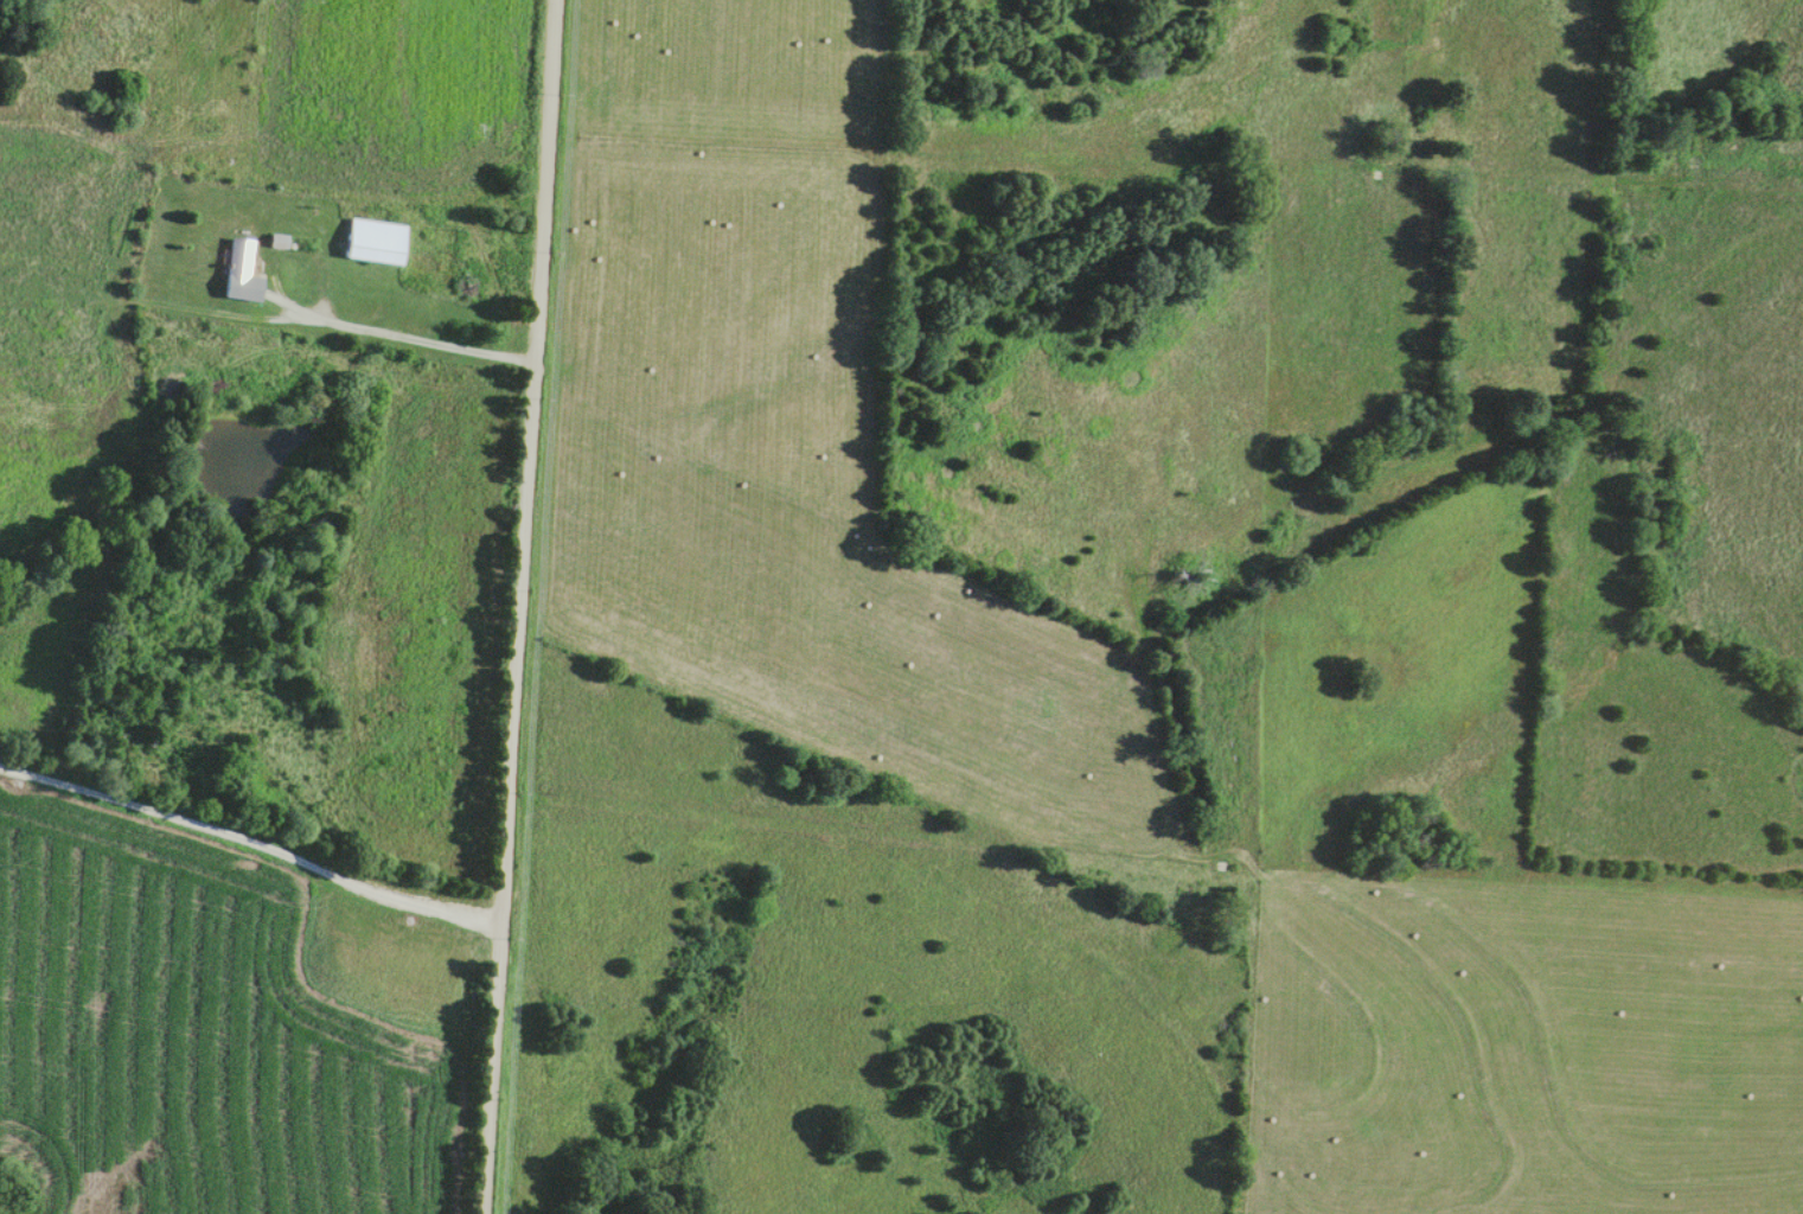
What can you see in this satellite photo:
building: (372, 243)
building: (237, 274)
road: (401, 337)
road: (523, 607)
road: (252, 842)

